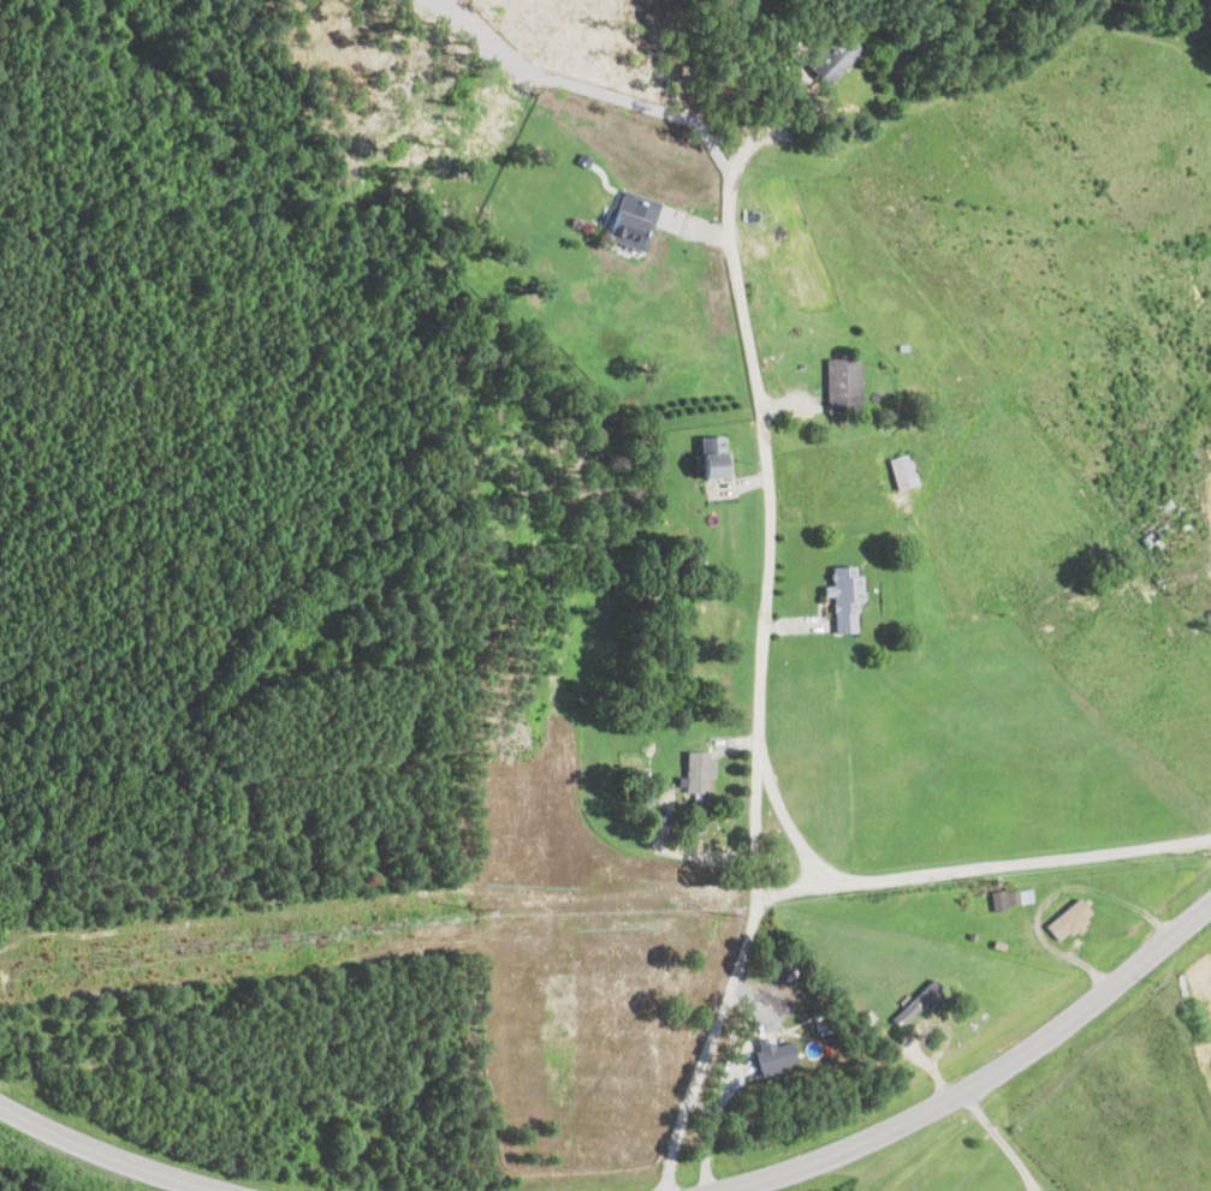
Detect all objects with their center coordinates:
building: (833, 56)
building: (627, 227)
building: (844, 383)
building: (714, 455)
building: (903, 471)
building: (844, 595)
road: (759, 693)
building: (699, 775)
power tower: (1205, 854)
power tower: (986, 880)
road: (786, 888)
road: (1051, 893)
building: (1010, 898)
power tower: (480, 910)
power tower: (726, 912)
building: (1069, 918)
power tower: (119, 955)
road: (732, 972)
building: (918, 1002)
building: (773, 1054)
road: (981, 1083)
road: (711, 1124)
road: (999, 1143)
road: (111, 1151)

